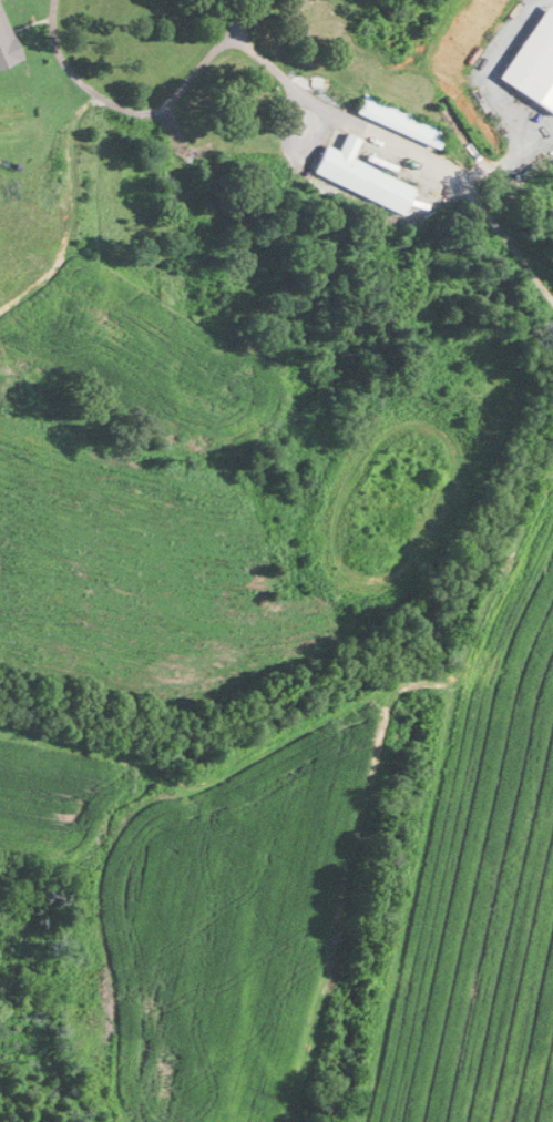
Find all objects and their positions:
building: (8, 41)
road: (482, 74)
road: (141, 111)
building: (403, 120)
road: (376, 131)
road: (545, 141)
building: (365, 175)

